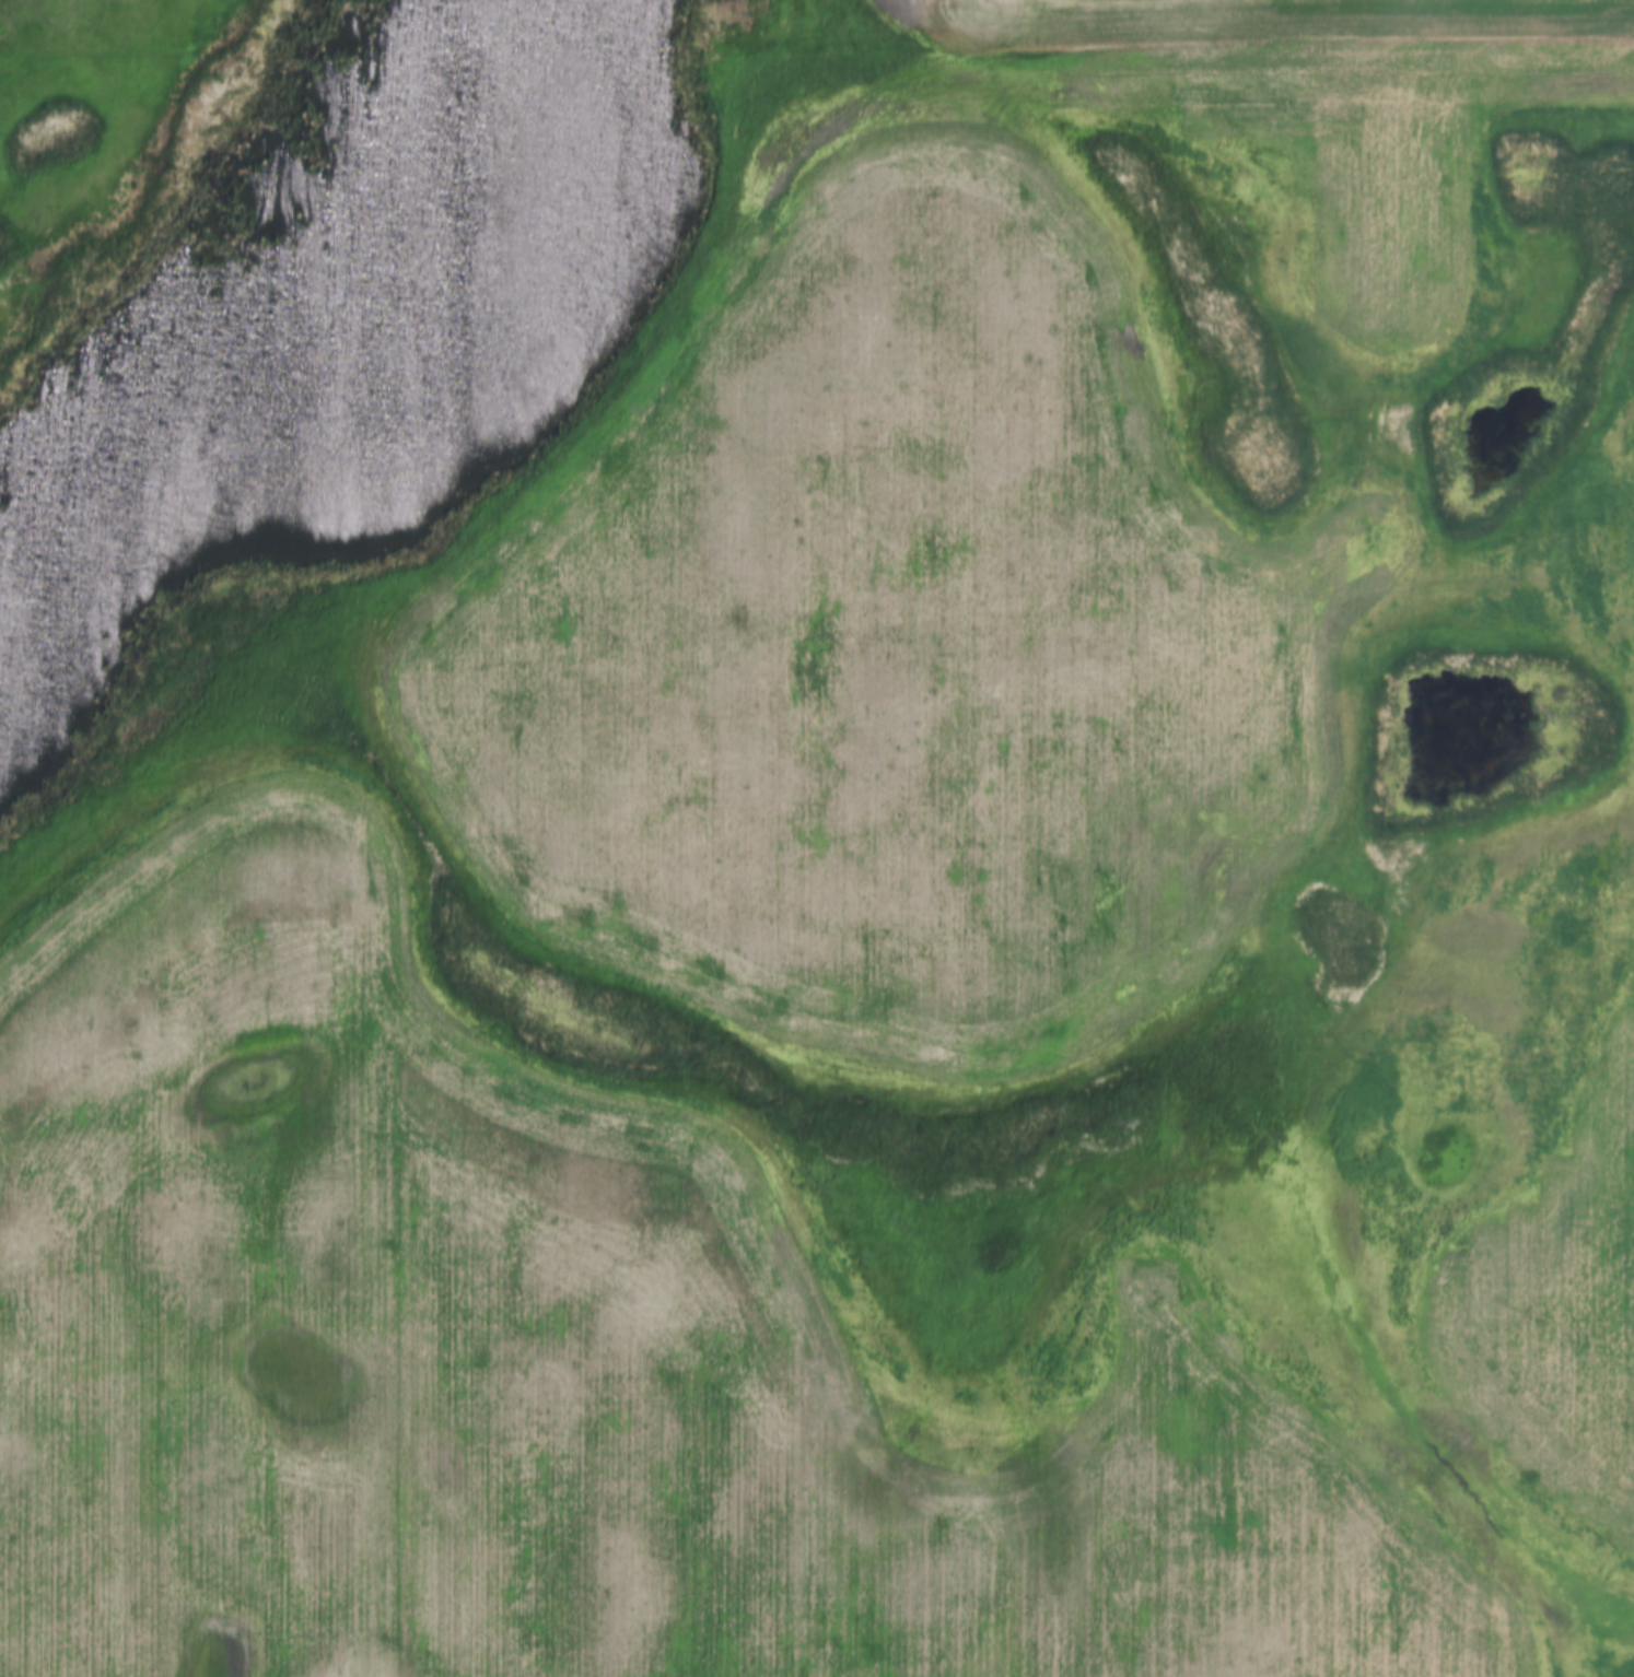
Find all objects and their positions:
road: (1193, 79)

